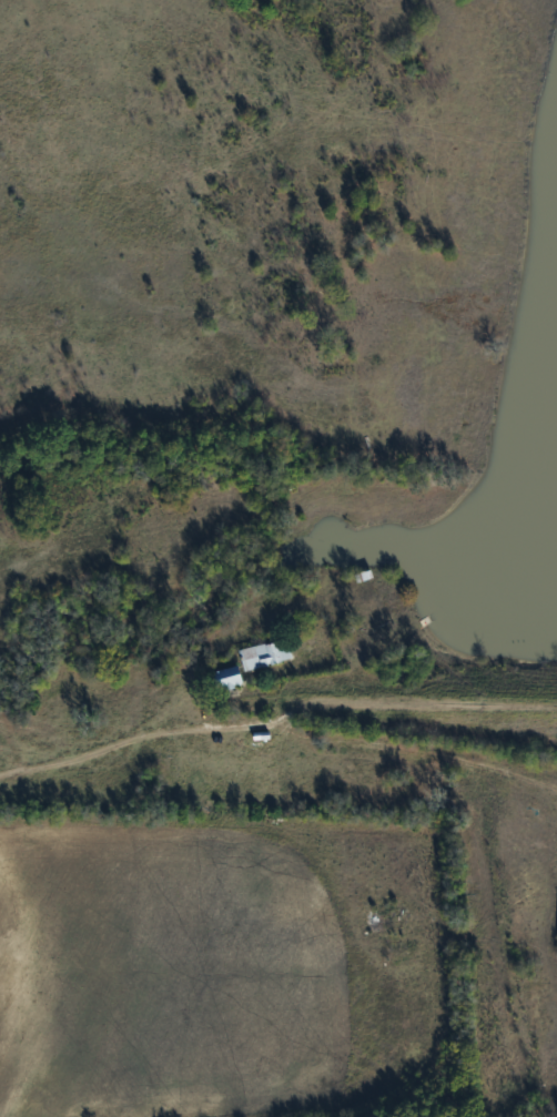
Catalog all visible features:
building: (264, 654)
building: (223, 679)
road: (278, 728)

